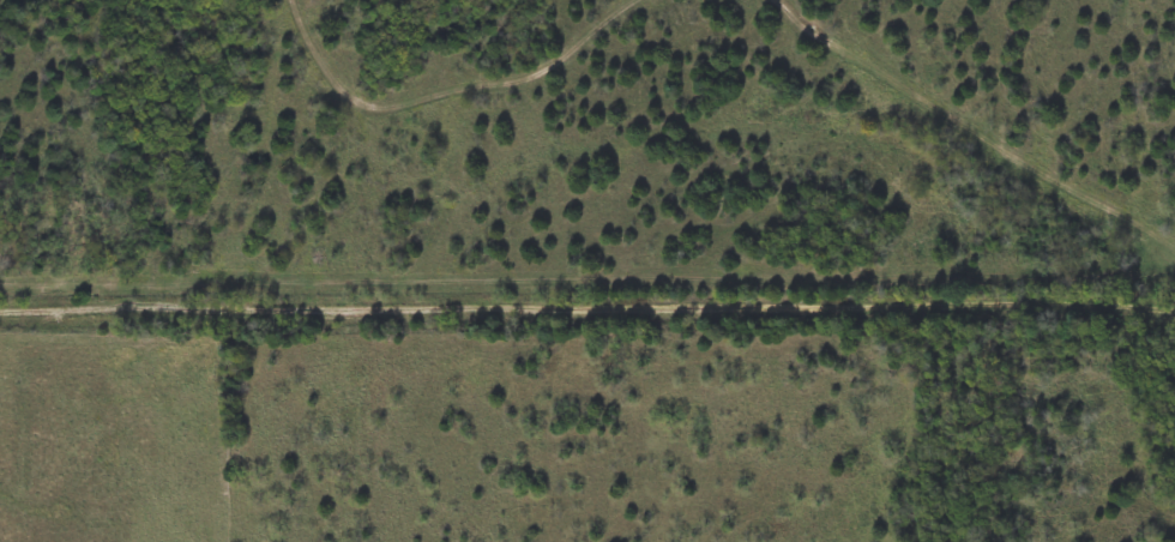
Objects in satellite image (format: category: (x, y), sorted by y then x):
road: (587, 312)

